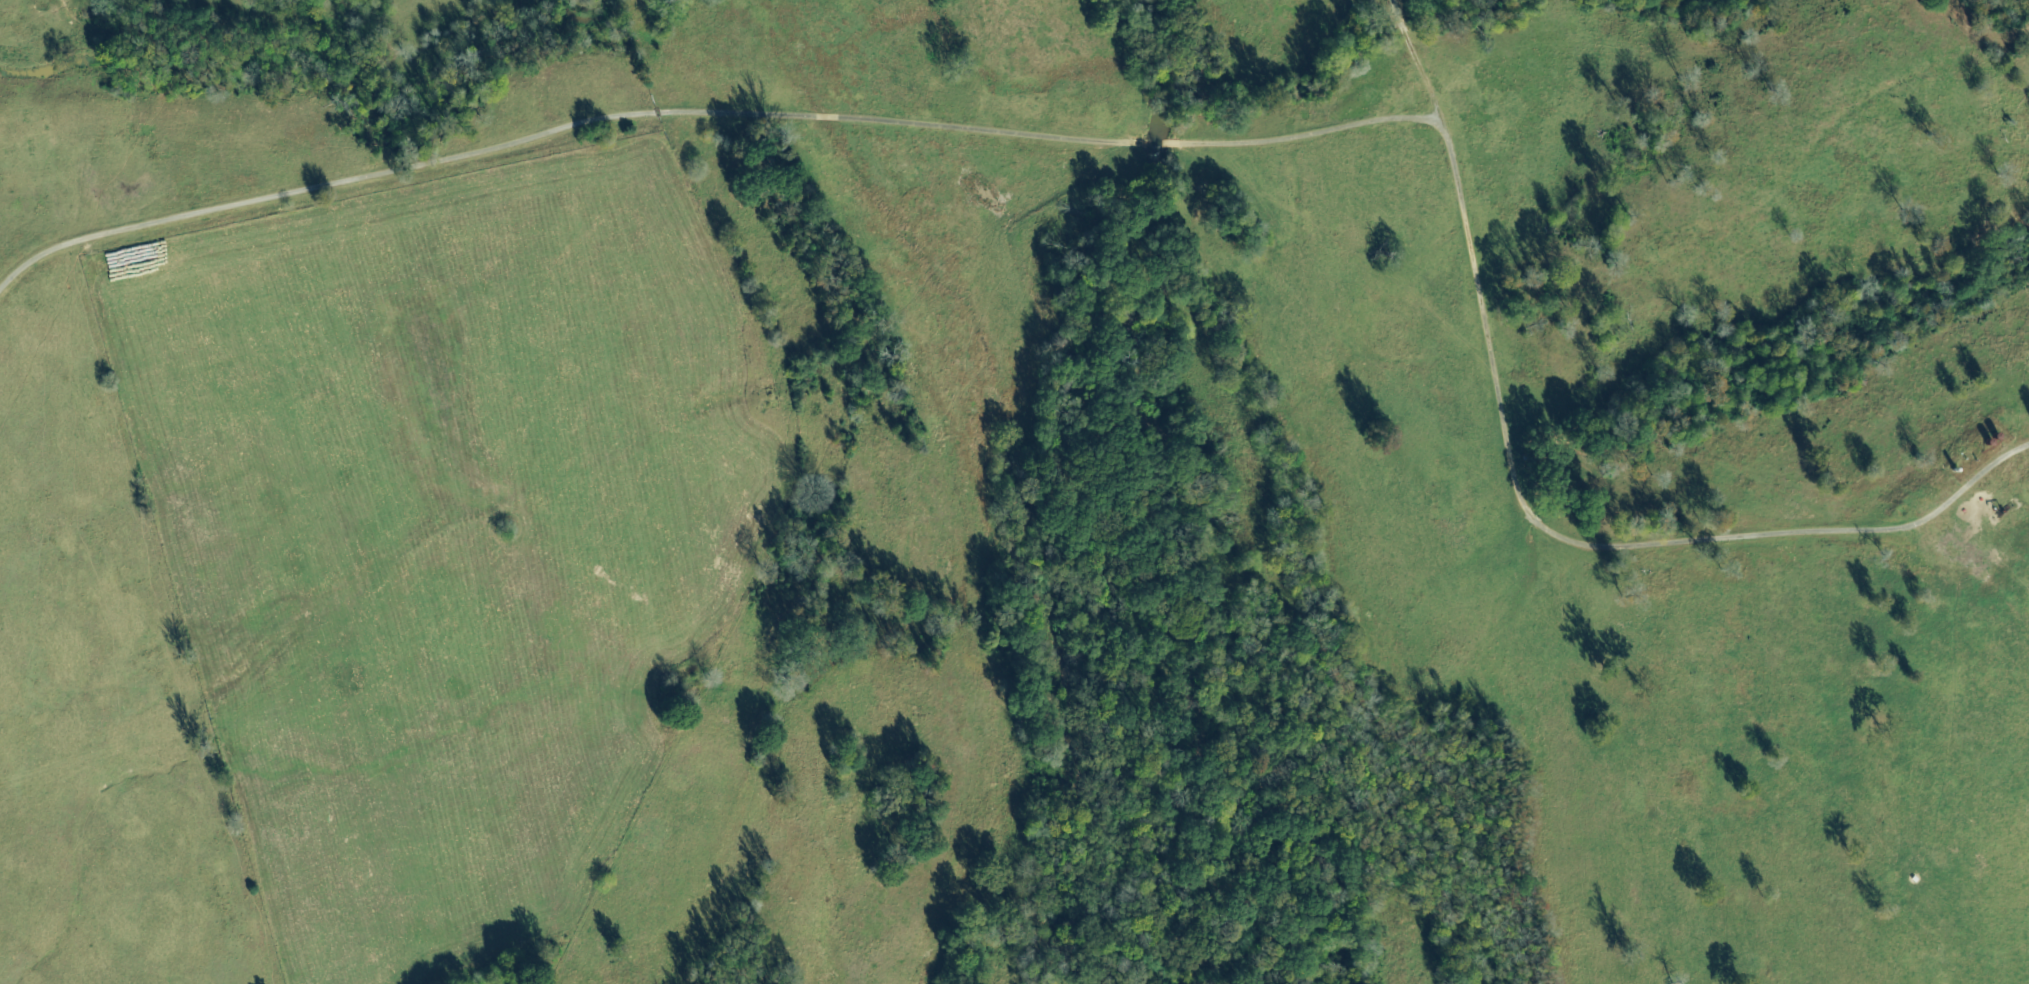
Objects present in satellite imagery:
road: (586, 122)

